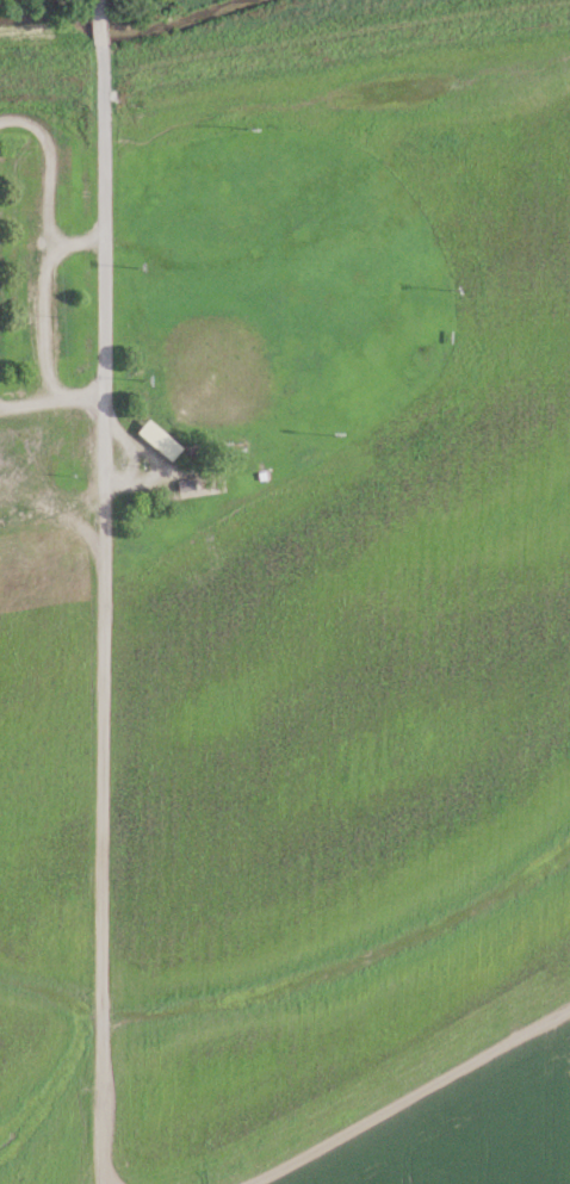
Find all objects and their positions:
road: (72, 241)
road: (44, 244)
road: (72, 396)
road: (24, 402)
building: (157, 439)
road: (93, 609)
road: (380, 1123)

